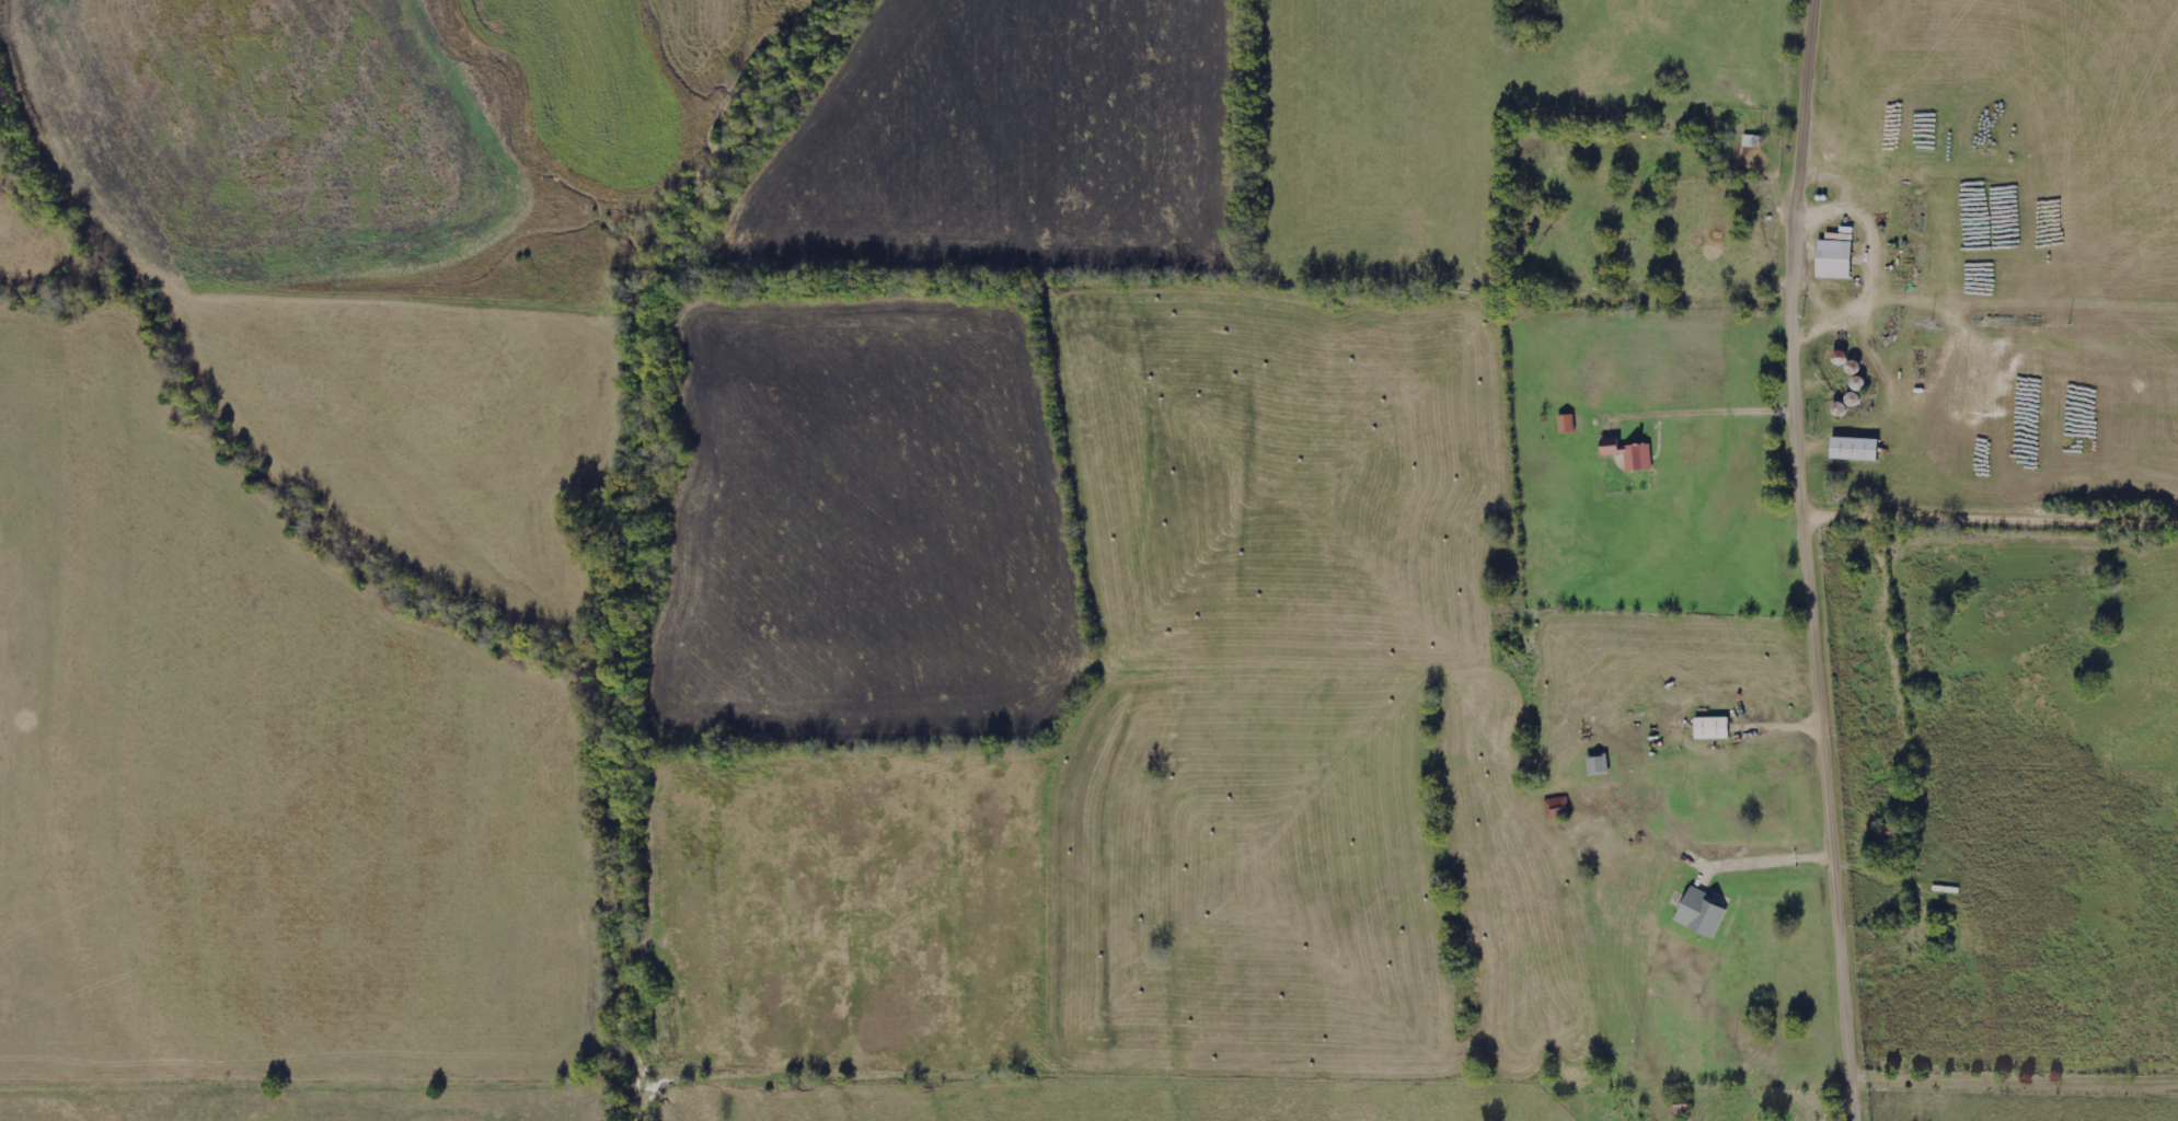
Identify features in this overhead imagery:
building: (1837, 258)
building: (1568, 424)
building: (1857, 450)
building: (1632, 454)
road: (1992, 516)
road: (1810, 560)
building: (1714, 729)
building: (1558, 809)
building: (1703, 914)

